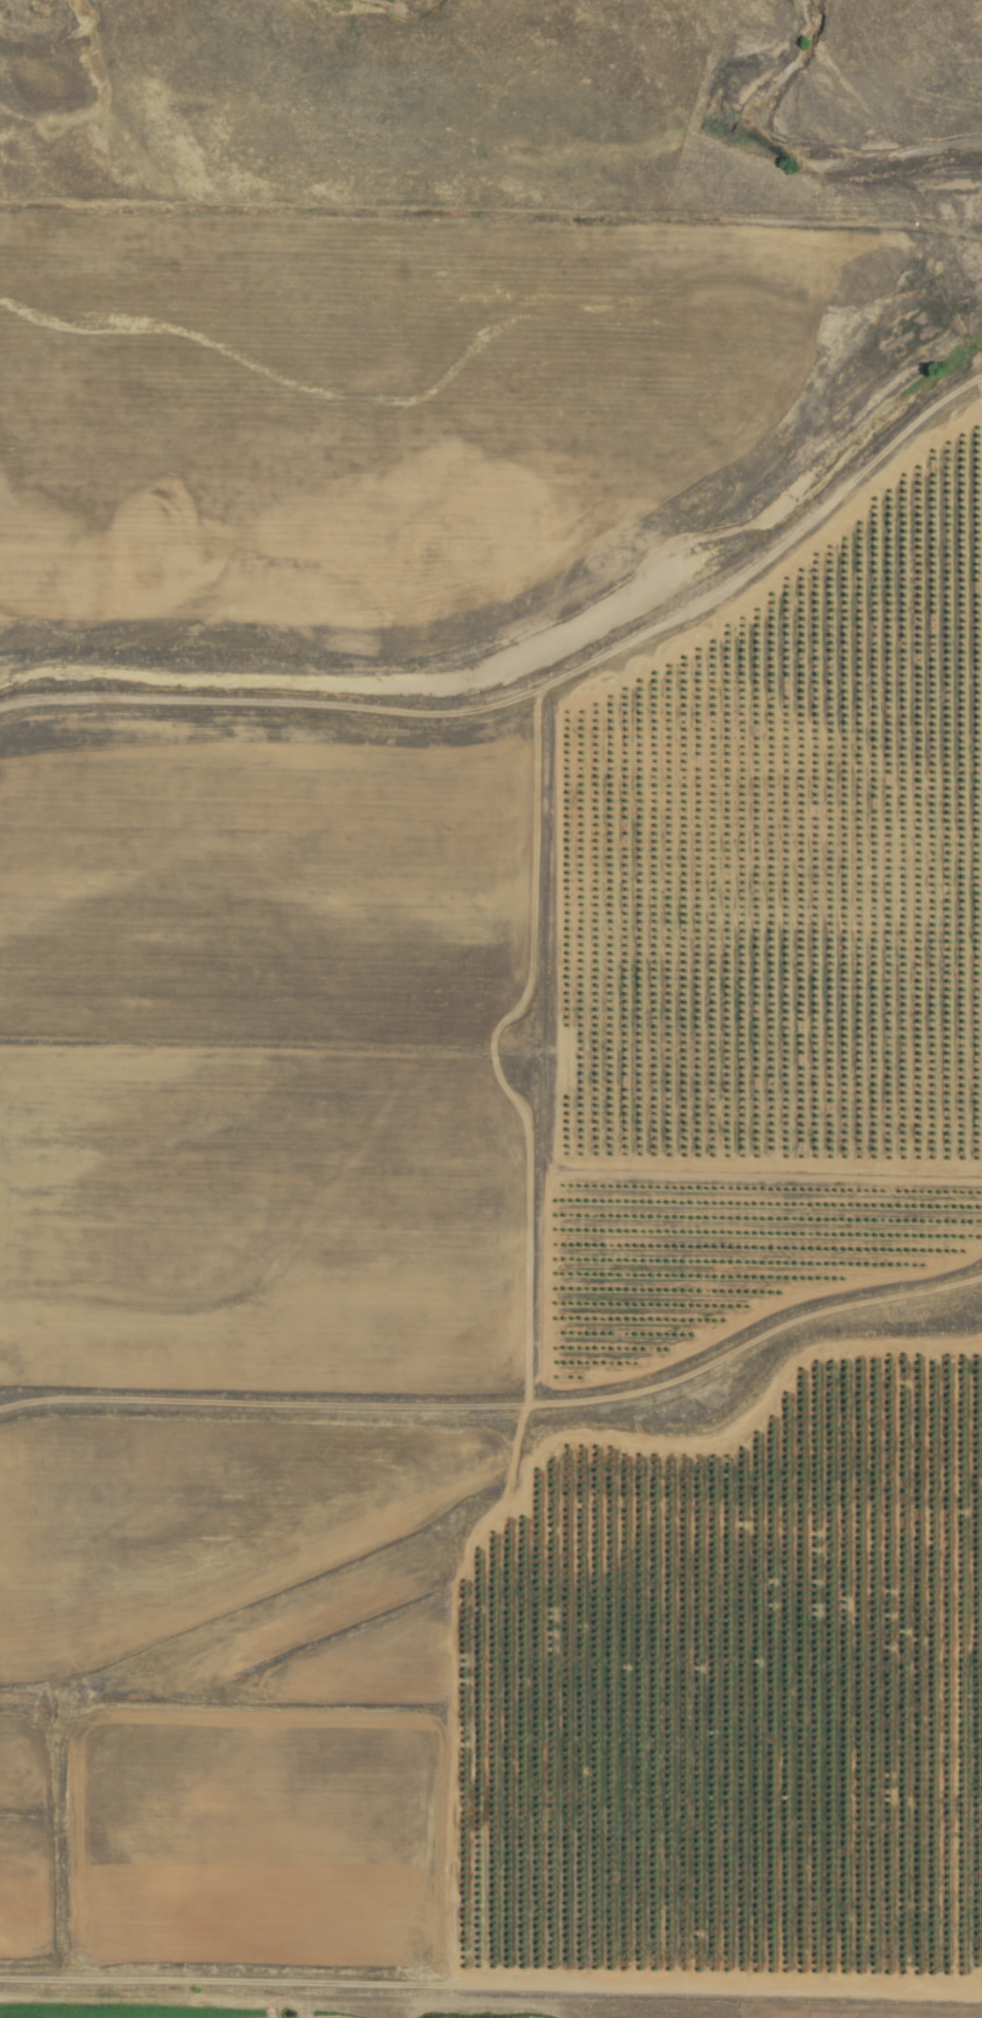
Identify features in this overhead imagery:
river: (402, 11)
river: (794, 156)
road: (540, 688)
road: (501, 1405)
road: (491, 1984)
crop: (132, 2010)

